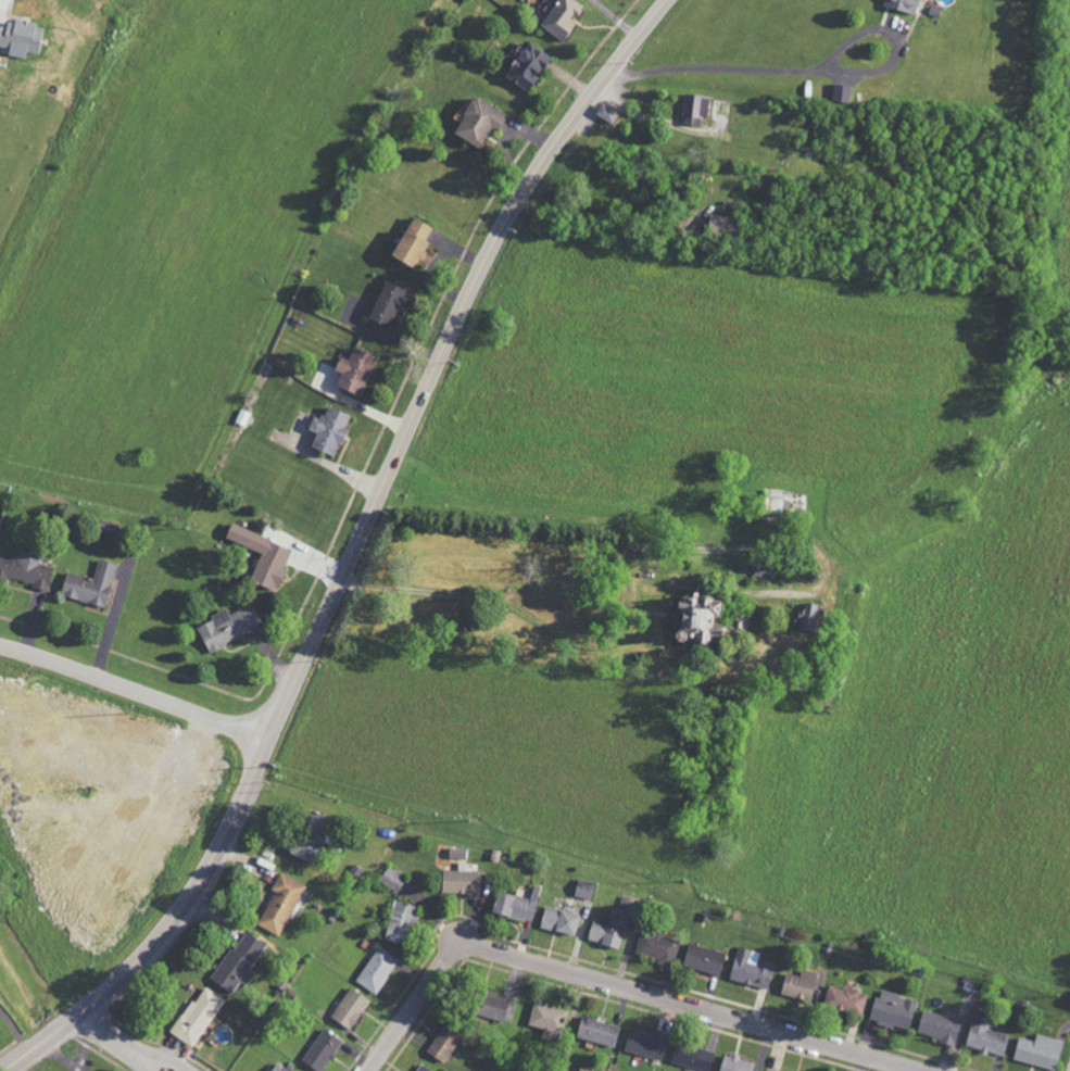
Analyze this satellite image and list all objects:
building: (902, 5)
building: (561, 17)
building: (526, 66)
road: (809, 72)
building: (841, 93)
building: (694, 109)
building: (606, 114)
road: (654, 119)
building: (477, 122)
building: (719, 226)
building: (411, 242)
building: (386, 304)
building: (353, 370)
building: (328, 431)
road: (353, 552)
building: (262, 555)
building: (25, 568)
building: (765, 569)
building: (89, 584)
building: (808, 616)
building: (693, 617)
building: (738, 620)
building: (227, 626)
road: (136, 689)
building: (307, 834)
building: (392, 878)
building: (460, 881)
building: (583, 889)
building: (280, 904)
building: (515, 905)
building: (558, 920)
building: (400, 922)
building: (612, 924)
building: (655, 946)
building: (702, 958)
building: (239, 962)
building: (750, 968)
building: (376, 969)
road: (619, 984)
building: (798, 984)
building: (844, 998)
building: (489, 1004)
building: (349, 1008)
building: (893, 1009)
building: (197, 1016)
building: (546, 1019)
building: (939, 1026)
building: (596, 1031)
building: (985, 1036)
building: (644, 1043)
building: (442, 1044)
road: (131, 1047)
building: (320, 1049)
building: (1037, 1050)
building: (691, 1057)
road: (148, 1062)
building: (734, 1063)
building: (278, 1068)
building: (421, 1068)
building: (770, 1070)

